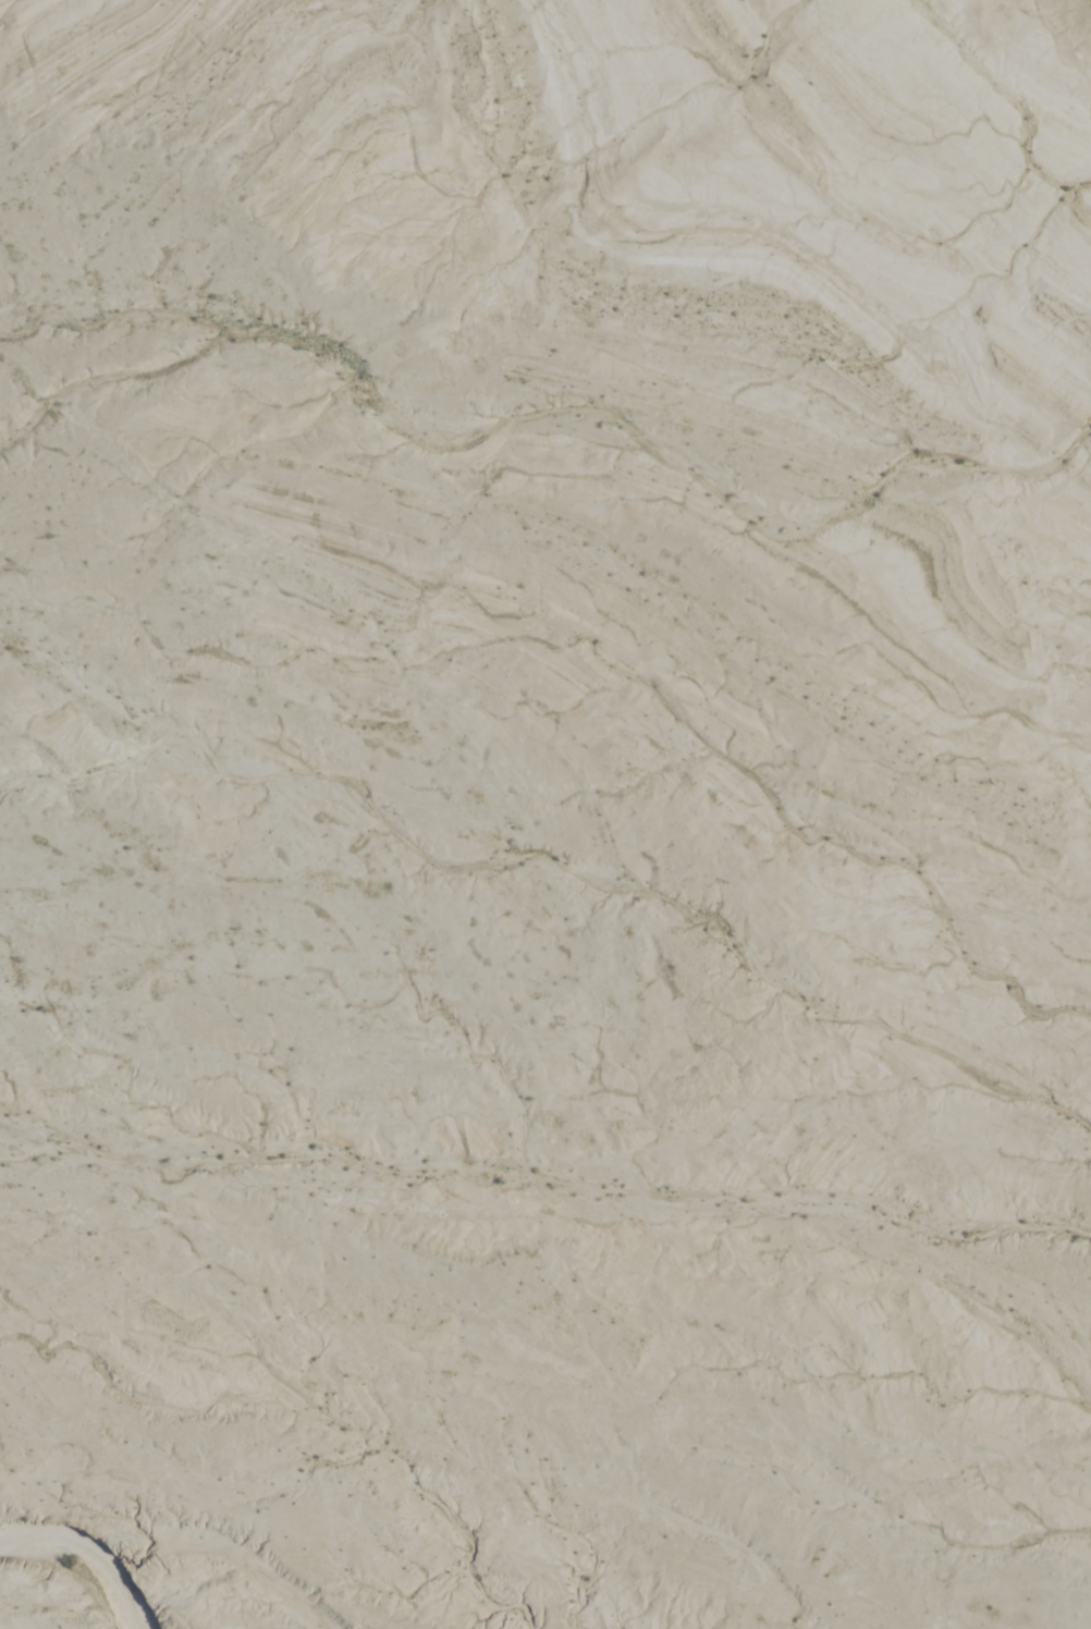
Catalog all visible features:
road: (90, 1548)

